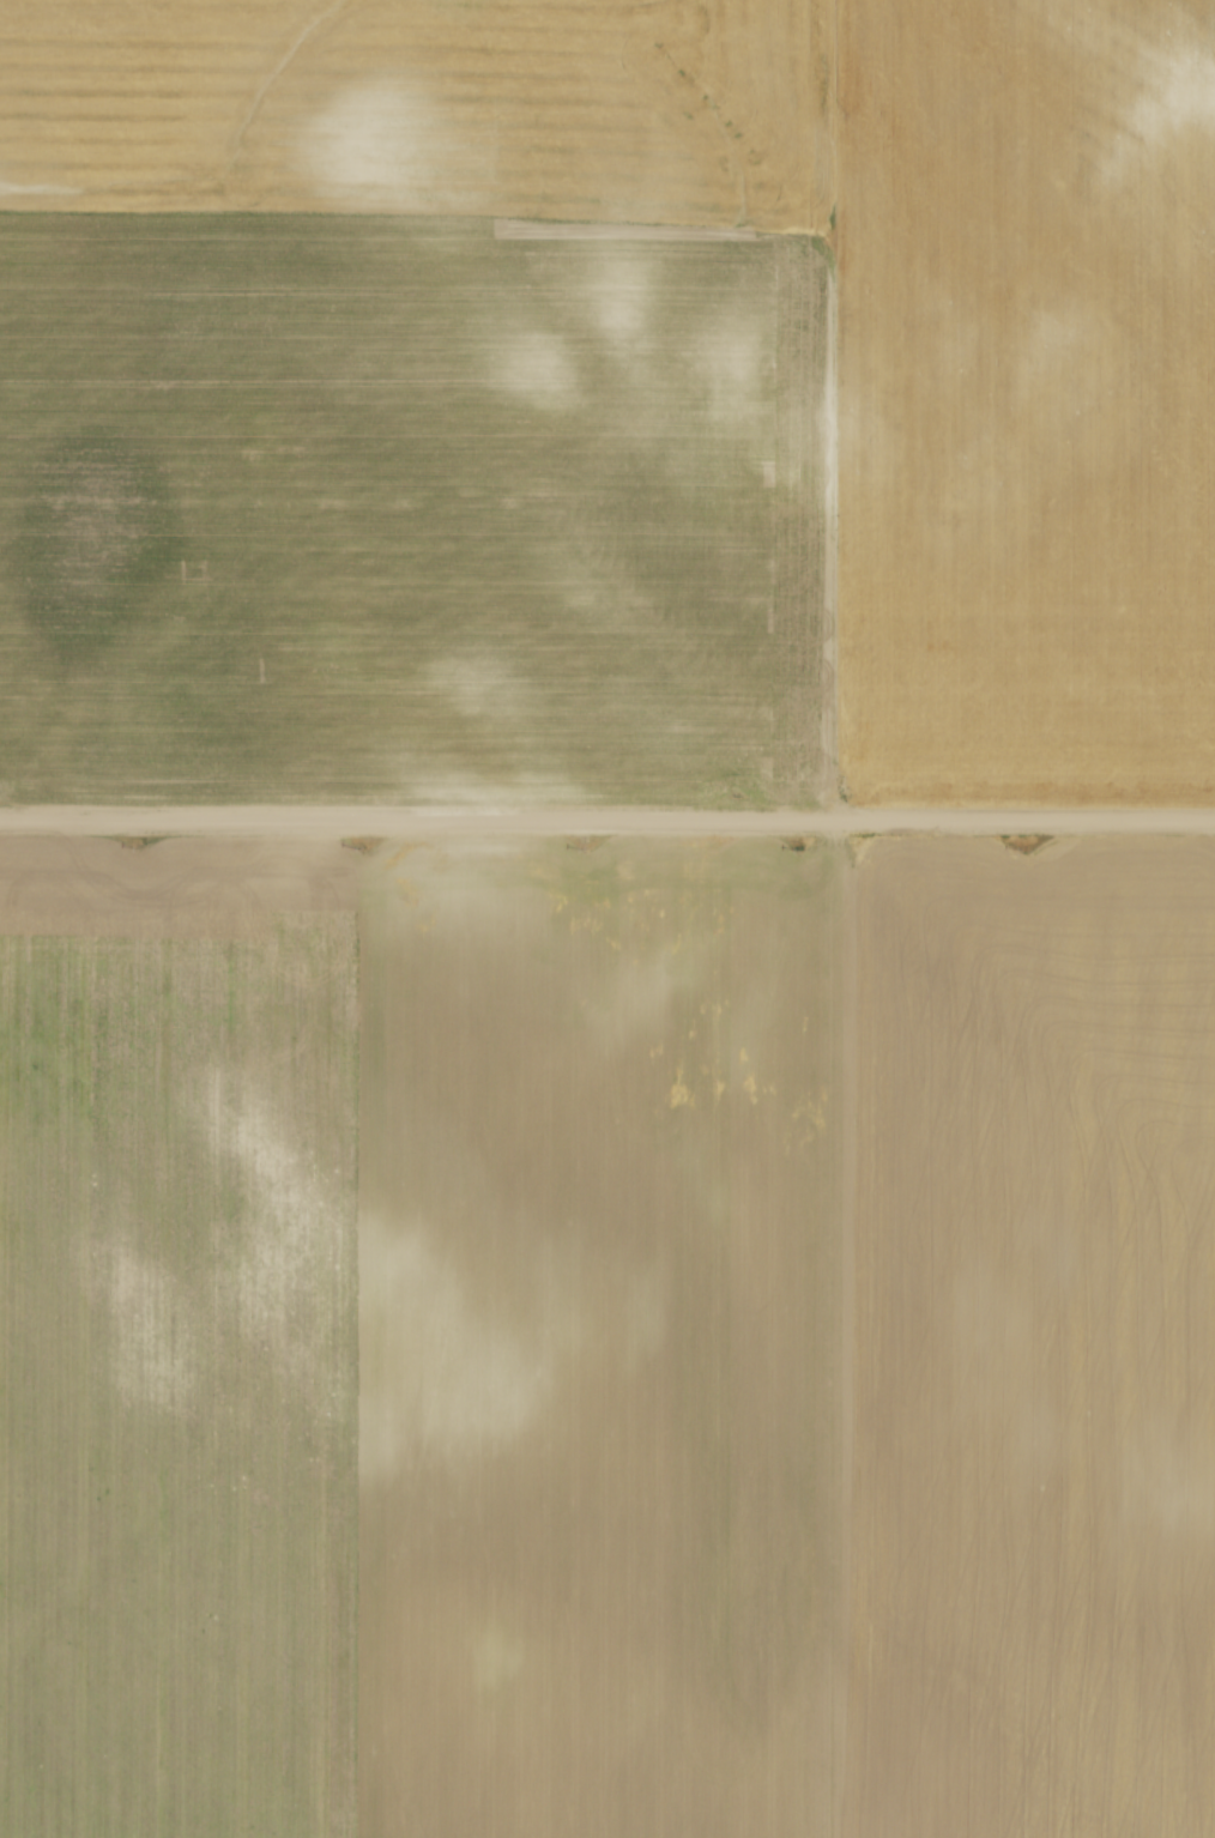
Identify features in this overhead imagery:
crop: (607, 398)
road: (607, 826)
crop: (606, 1343)

